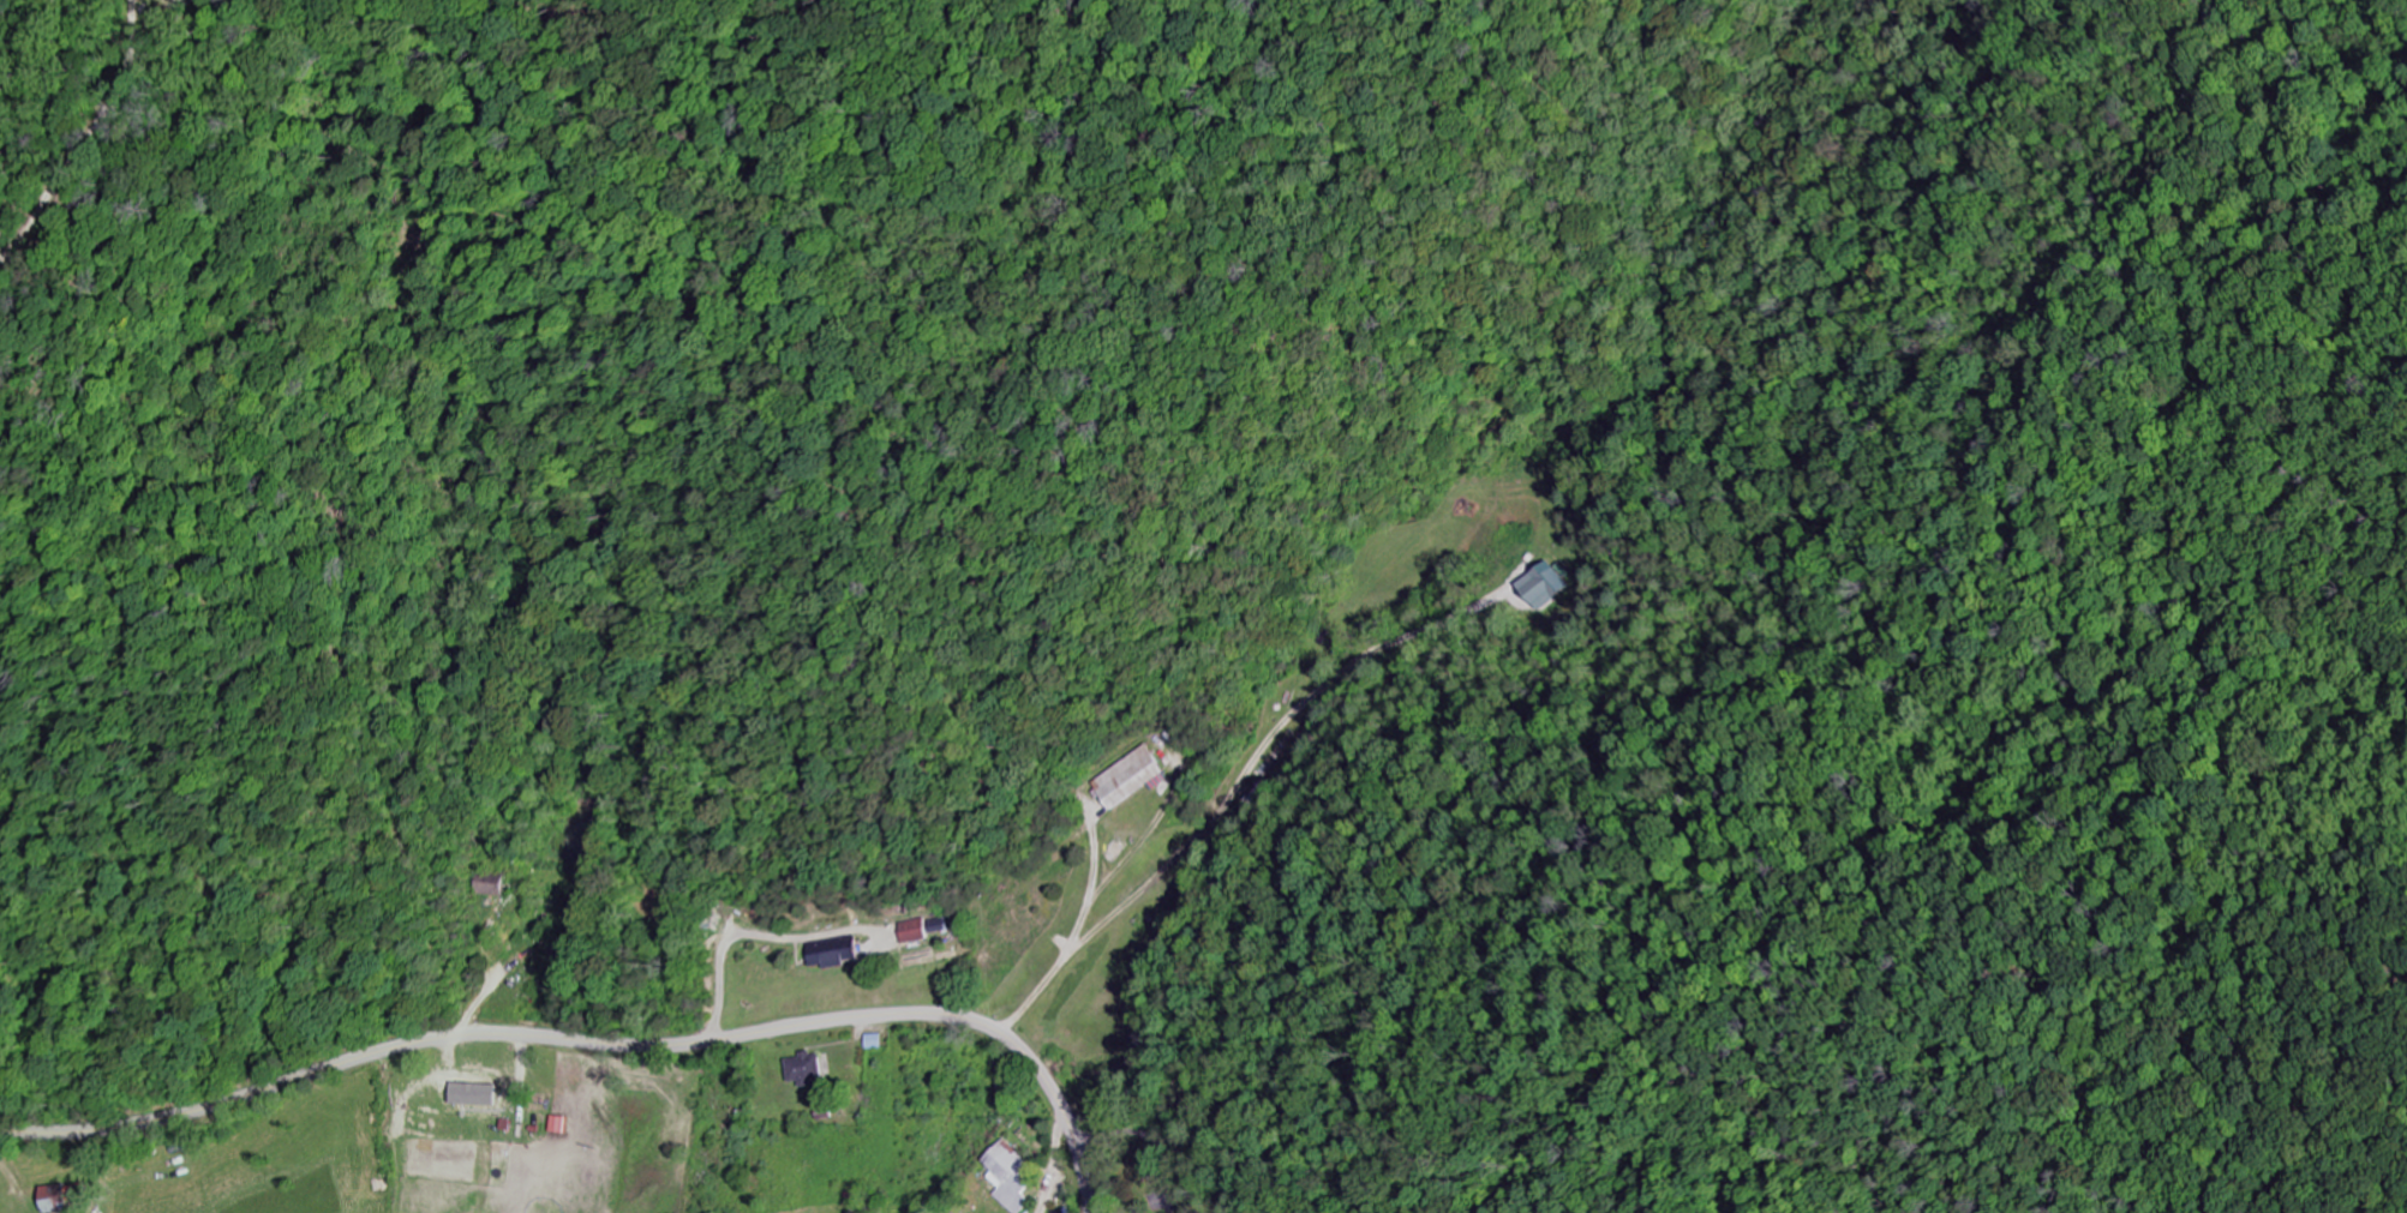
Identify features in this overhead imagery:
building: (1541, 587)
building: (1131, 779)
road: (1231, 783)
building: (933, 926)
building: (911, 931)
road: (753, 935)
building: (836, 951)
building: (874, 1041)
road: (598, 1043)
building: (809, 1069)
building: (556, 1124)
road: (157, 1166)
building: (1010, 1177)
building: (60, 1197)

